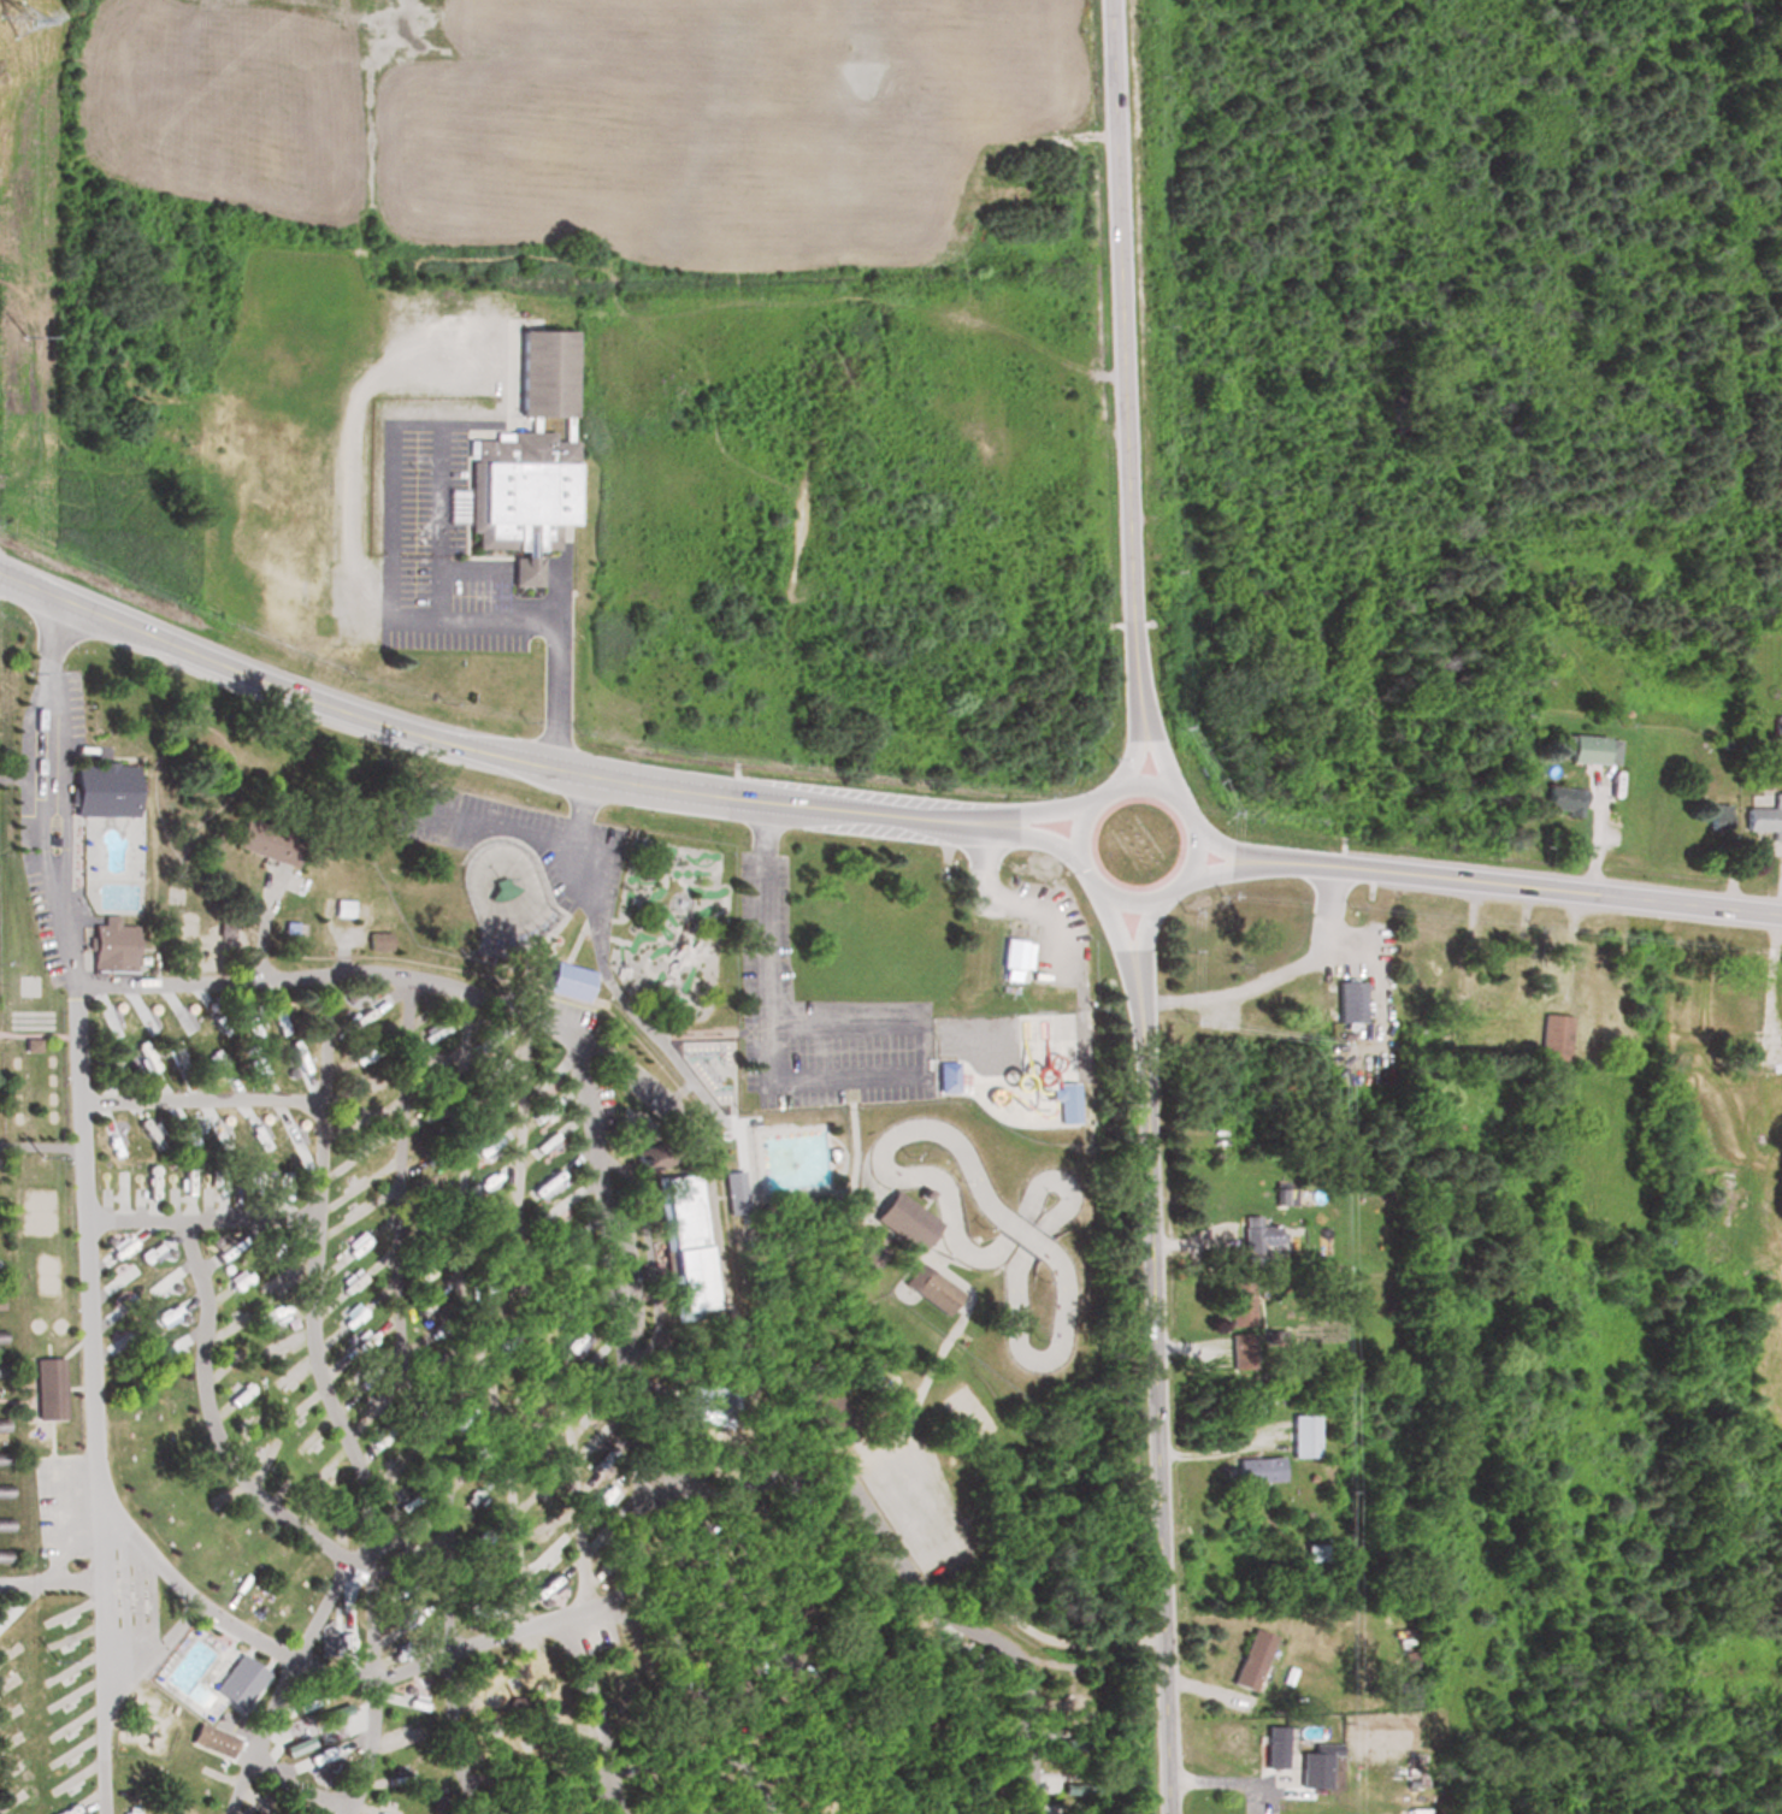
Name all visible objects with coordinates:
power tower: (17, 17)
power tower: (25, 336)
road: (1131, 355)
building: (539, 371)
building: (523, 494)
parking lot: (441, 550)
building: (529, 574)
road: (443, 587)
power tower: (33, 670)
road: (561, 693)
parking lot: (76, 717)
railway: (207, 729)
building: (1585, 748)
road: (480, 750)
road: (1137, 751)
road: (1163, 755)
parking lot: (34, 774)
building: (104, 790)
building: (1559, 798)
road: (1045, 809)
road: (1190, 810)
road: (583, 811)
building: (1764, 816)
road: (1039, 835)
parking lot: (521, 841)
road: (1222, 841)
building: (266, 843)
building: (116, 863)
road: (1223, 865)
road: (1521, 886)
park: (509, 896)
park: (177, 897)
building: (343, 909)
parking lot: (47, 927)
road: (1116, 927)
building: (296, 929)
road: (1145, 930)
building: (378, 941)
road: (578, 944)
building: (112, 945)
building: (1010, 953)
building: (1424, 956)
road: (1274, 975)
building: (568, 981)
building: (1585, 986)
park: (31, 987)
building: (1349, 1000)
building: (1739, 1003)
parking lot: (815, 1021)
park: (34, 1022)
road: (661, 1035)
building: (1553, 1036)
building: (33, 1046)
road: (578, 1051)
building: (1741, 1053)
park: (714, 1068)
road: (808, 1076)
building: (948, 1077)
park: (35, 1091)
road: (200, 1100)
parking lot: (606, 1111)
building: (661, 1154)
power tower: (40, 1158)
raceway: (885, 1163)
fountain: (796, 1166)
theme park: (836, 1169)
road: (857, 1174)
raceway: (1055, 1182)
building: (1718, 1183)
building: (678, 1184)
building: (1282, 1195)
building: (679, 1199)
road: (87, 1206)
building: (681, 1213)
park: (39, 1215)
building: (1718, 1217)
road: (202, 1221)
building: (907, 1221)
railway: (727, 1224)
building: (684, 1235)
building: (1255, 1237)
road: (740, 1243)
road: (650, 1255)
parking lot: (630, 1268)
building: (686, 1269)
park: (48, 1277)
road: (904, 1281)
road: (728, 1290)
building: (932, 1290)
building: (689, 1302)
road: (964, 1302)
building: (1238, 1304)
road: (470, 1313)
road: (533, 1314)
road: (400, 1322)
road: (771, 1331)
road: (314, 1334)
building: (0, 1336)
road: (955, 1336)
road: (77, 1345)
building: (1240, 1354)
building: (724, 1355)
raceway: (1045, 1361)
building: (0, 1367)
raceway: (1093, 1384)
road: (653, 1388)
building: (49, 1389)
road: (79, 1390)
road: (1152, 1393)
road: (17, 1404)
building: (709, 1405)
building: (845, 1407)
building: (828, 1411)
building: (1, 1423)
road: (218, 1429)
road: (649, 1430)
building: (1302, 1435)
road: (54, 1438)
building: (1, 1456)
building: (1256, 1470)
parking lot: (688, 1478)
building: (4, 1489)
parking lot: (65, 1501)
building: (761, 1520)
building: (809, 1520)
building: (4, 1521)
building: (661, 1528)
building: (739, 1544)
building: (1311, 1552)
road: (69, 1553)
building: (1, 1554)
building: (675, 1570)
road: (51, 1582)
road: (720, 1584)
building: (858, 1586)
building: (751, 1588)
building: (803, 1601)
building: (689, 1606)
road: (324, 1609)
road: (939, 1617)
road: (622, 1618)
building: (713, 1638)
building: (830, 1642)
power tower: (59, 1656)
building: (957, 1658)
building: (1247, 1659)
road: (151, 1660)
building: (828, 1671)
building: (242, 1673)
road: (335, 1674)
building: (733, 1685)
road: (707, 1692)
building: (802, 1700)
road: (597, 1713)
railway: (880, 1726)
building: (772, 1730)
road: (454, 1737)
building: (686, 1738)
building: (213, 1741)
building: (1067, 1741)
building: (1271, 1747)
building: (653, 1765)
building: (1311, 1766)
building: (549, 1773)
building: (704, 1778)
building: (517, 1779)
building: (972, 1780)
building: (826, 1784)
road: (243, 1785)
building: (1075, 1785)
building: (663, 1792)
road: (309, 1794)
building: (856, 1796)
building: (554, 1803)
building: (437, 1804)
road: (350, 1810)
building: (1074, 1810)
building: (1411, 1812)
building: (526, 1813)
building: (975, 1813)

